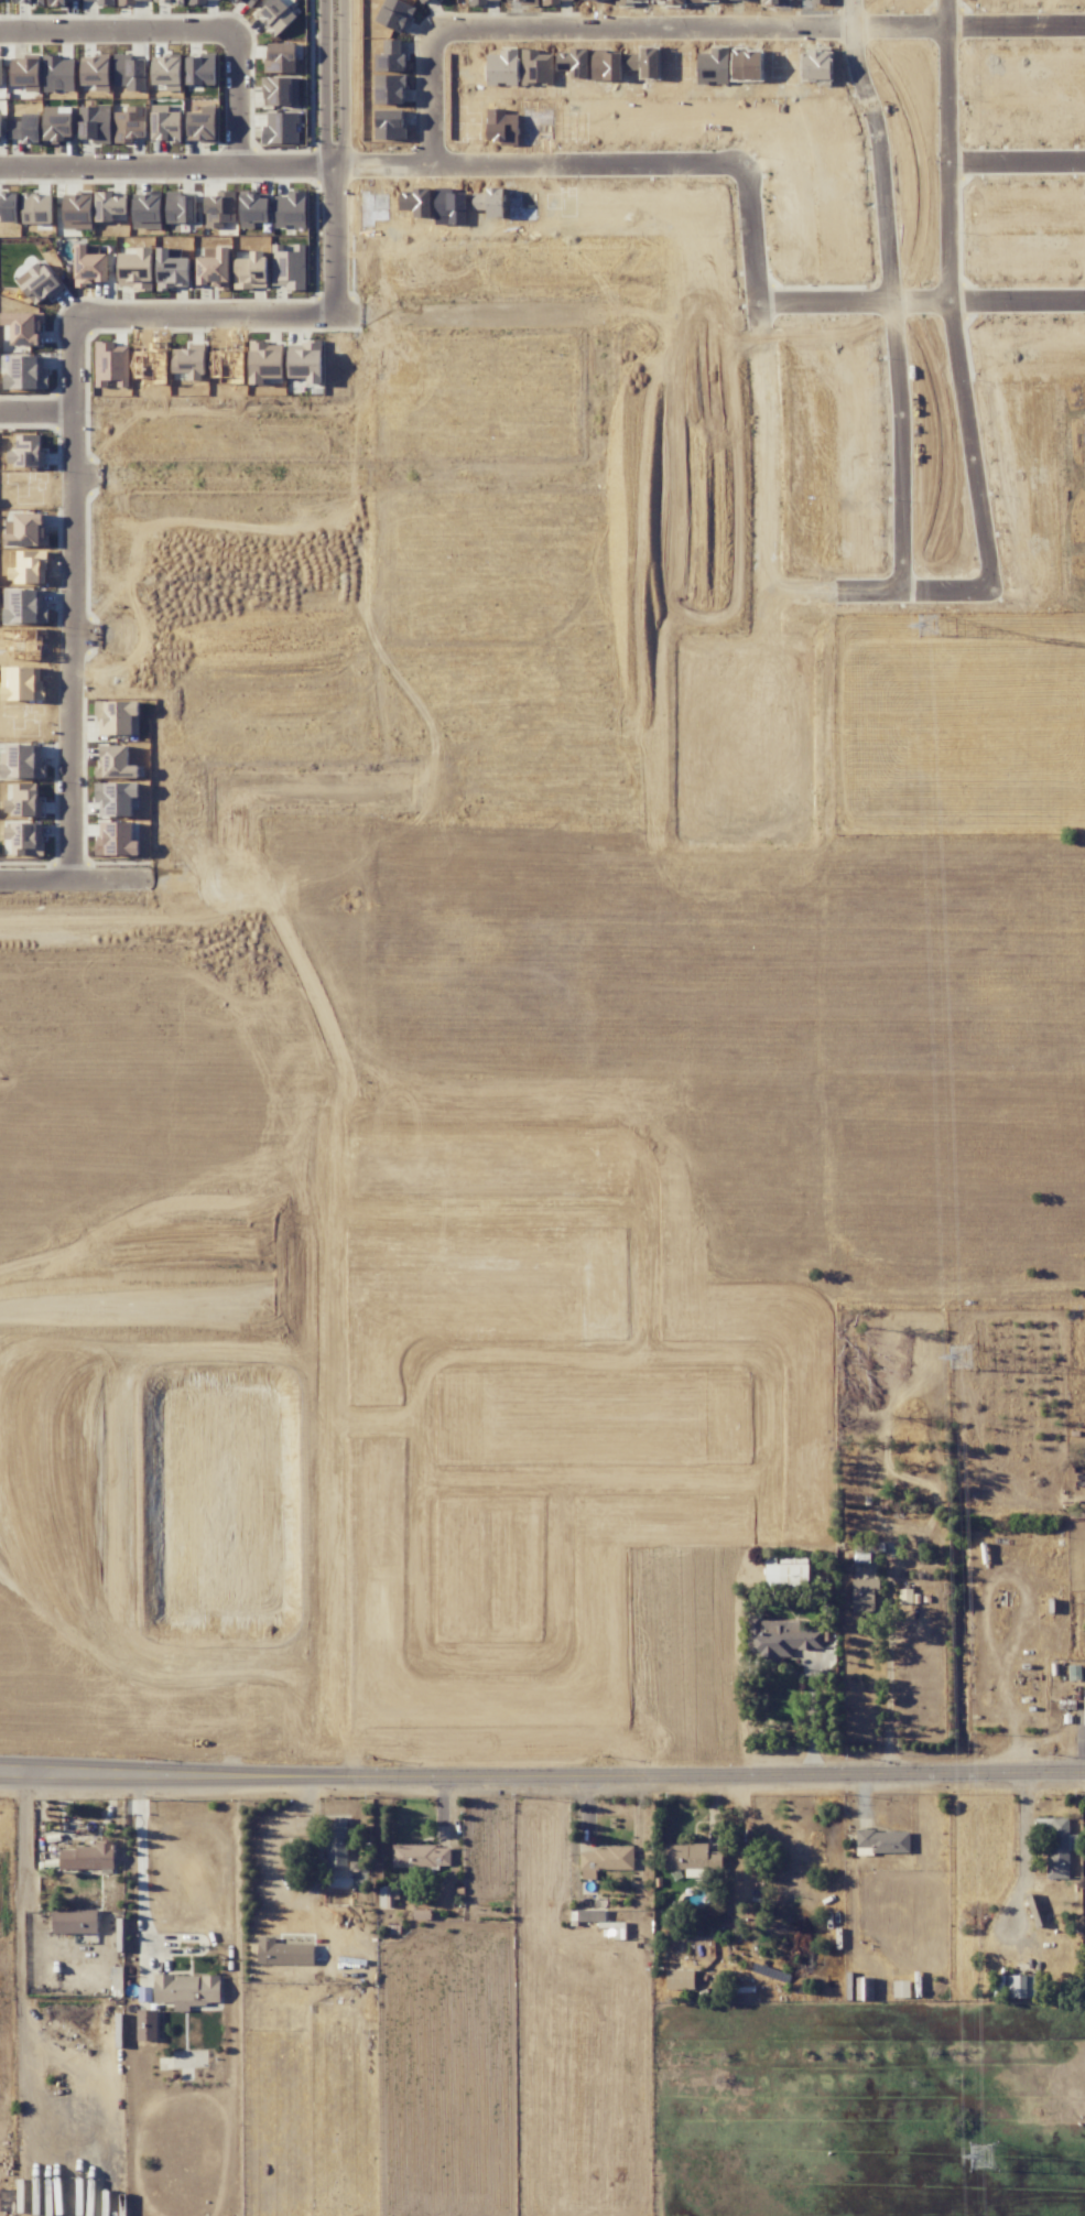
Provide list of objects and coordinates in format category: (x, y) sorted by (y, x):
building: (236, 0)
building: (249, 2)
building: (394, 14)
building: (275, 15)
road: (696, 29)
building: (280, 57)
building: (390, 62)
building: (25, 72)
building: (390, 89)
building: (280, 90)
road: (246, 98)
building: (389, 125)
building: (166, 127)
building: (200, 127)
building: (55, 128)
building: (281, 128)
building: (25, 130)
road: (295, 161)
road: (343, 161)
road: (628, 164)
road: (1020, 166)
building: (77, 202)
building: (7, 203)
building: (110, 204)
building: (289, 266)
building: (89, 267)
building: (214, 268)
building: (39, 282)
road: (892, 294)
road: (921, 310)
building: (23, 326)
building: (308, 359)
building: (191, 363)
building: (111, 364)
building: (270, 365)
building: (28, 375)
road: (973, 406)
road: (41, 417)
road: (80, 435)
building: (26, 452)
road: (348, 478)
building: (30, 528)
building: (22, 606)
road: (768, 606)
power tower: (925, 624)
road: (348, 640)
road: (618, 700)
building: (117, 717)
building: (23, 761)
building: (116, 761)
building: (116, 798)
building: (25, 837)
building: (116, 839)
road: (647, 992)
road: (850, 1053)
road: (748, 1084)
road: (864, 1237)
power tower: (958, 1356)
road: (382, 1429)
road: (493, 1481)
road: (340, 1496)
road: (424, 1554)
building: (788, 1572)
building: (864, 1595)
building: (775, 1639)
building: (1084, 1701)
road: (813, 1715)
road: (542, 1774)
building: (883, 1840)
road: (1021, 1840)
building: (336, 1841)
building: (1057, 1847)
building: (404, 1853)
road: (264, 1855)
building: (87, 1857)
building: (691, 1857)
building: (604, 1860)
road: (139, 1879)
building: (590, 1915)
building: (74, 1921)
building: (283, 1953)
building: (680, 1979)
building: (1013, 1986)
building: (209, 1988)
building: (901, 1988)
building: (147, 2024)
power tower: (979, 2158)

